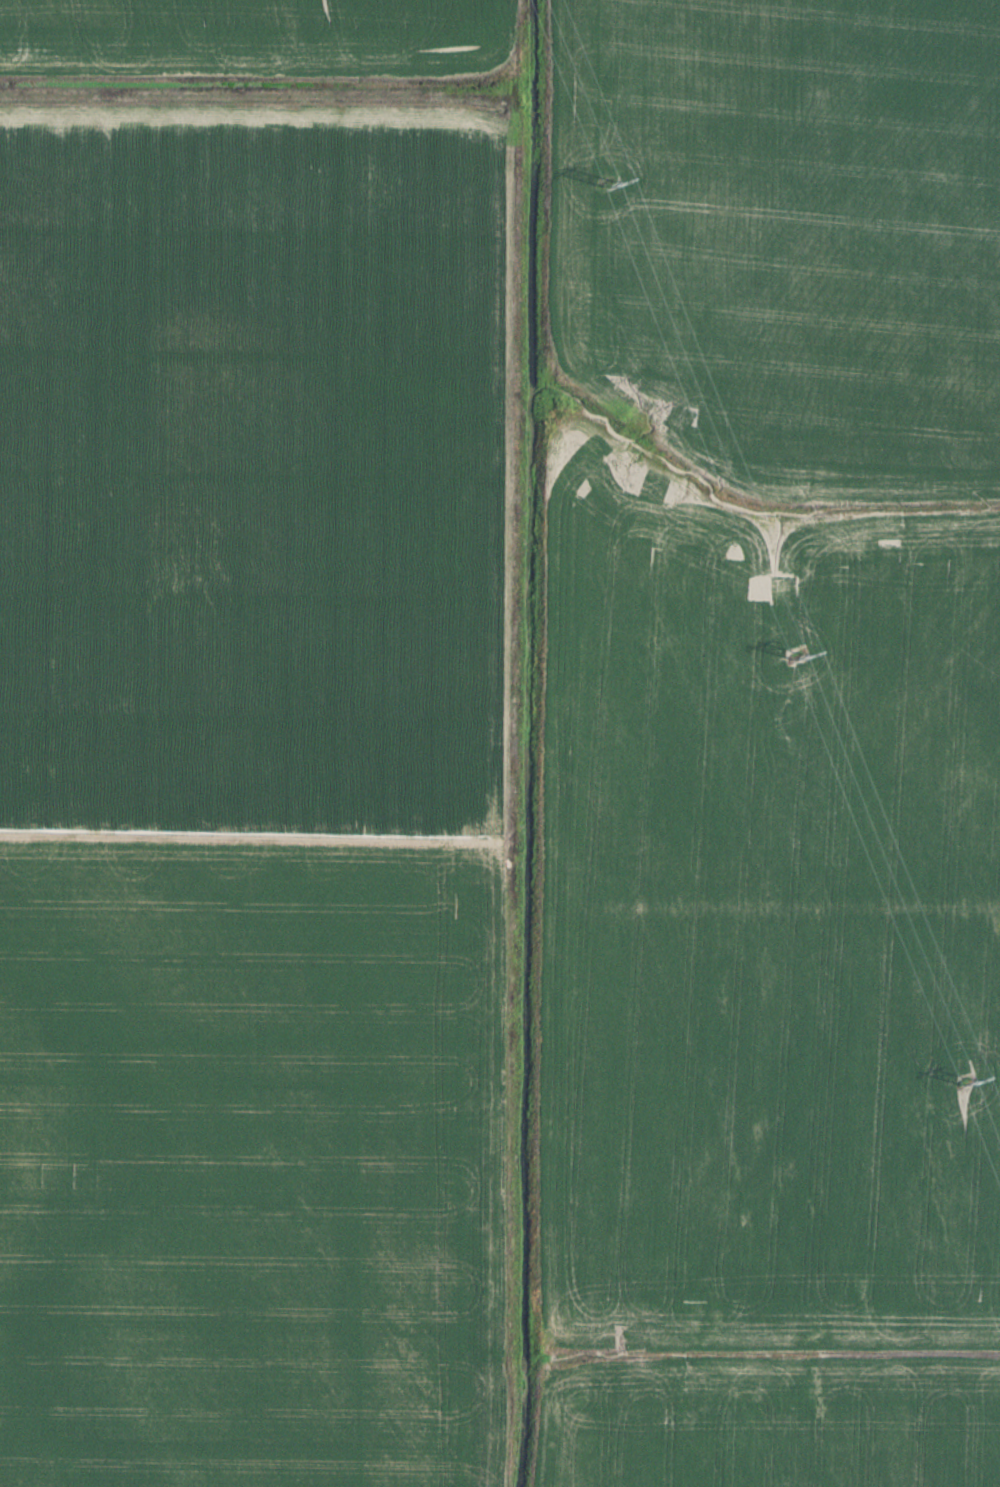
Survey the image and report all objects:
power tower: (609, 182)
power tower: (795, 653)
power tower: (965, 1079)

